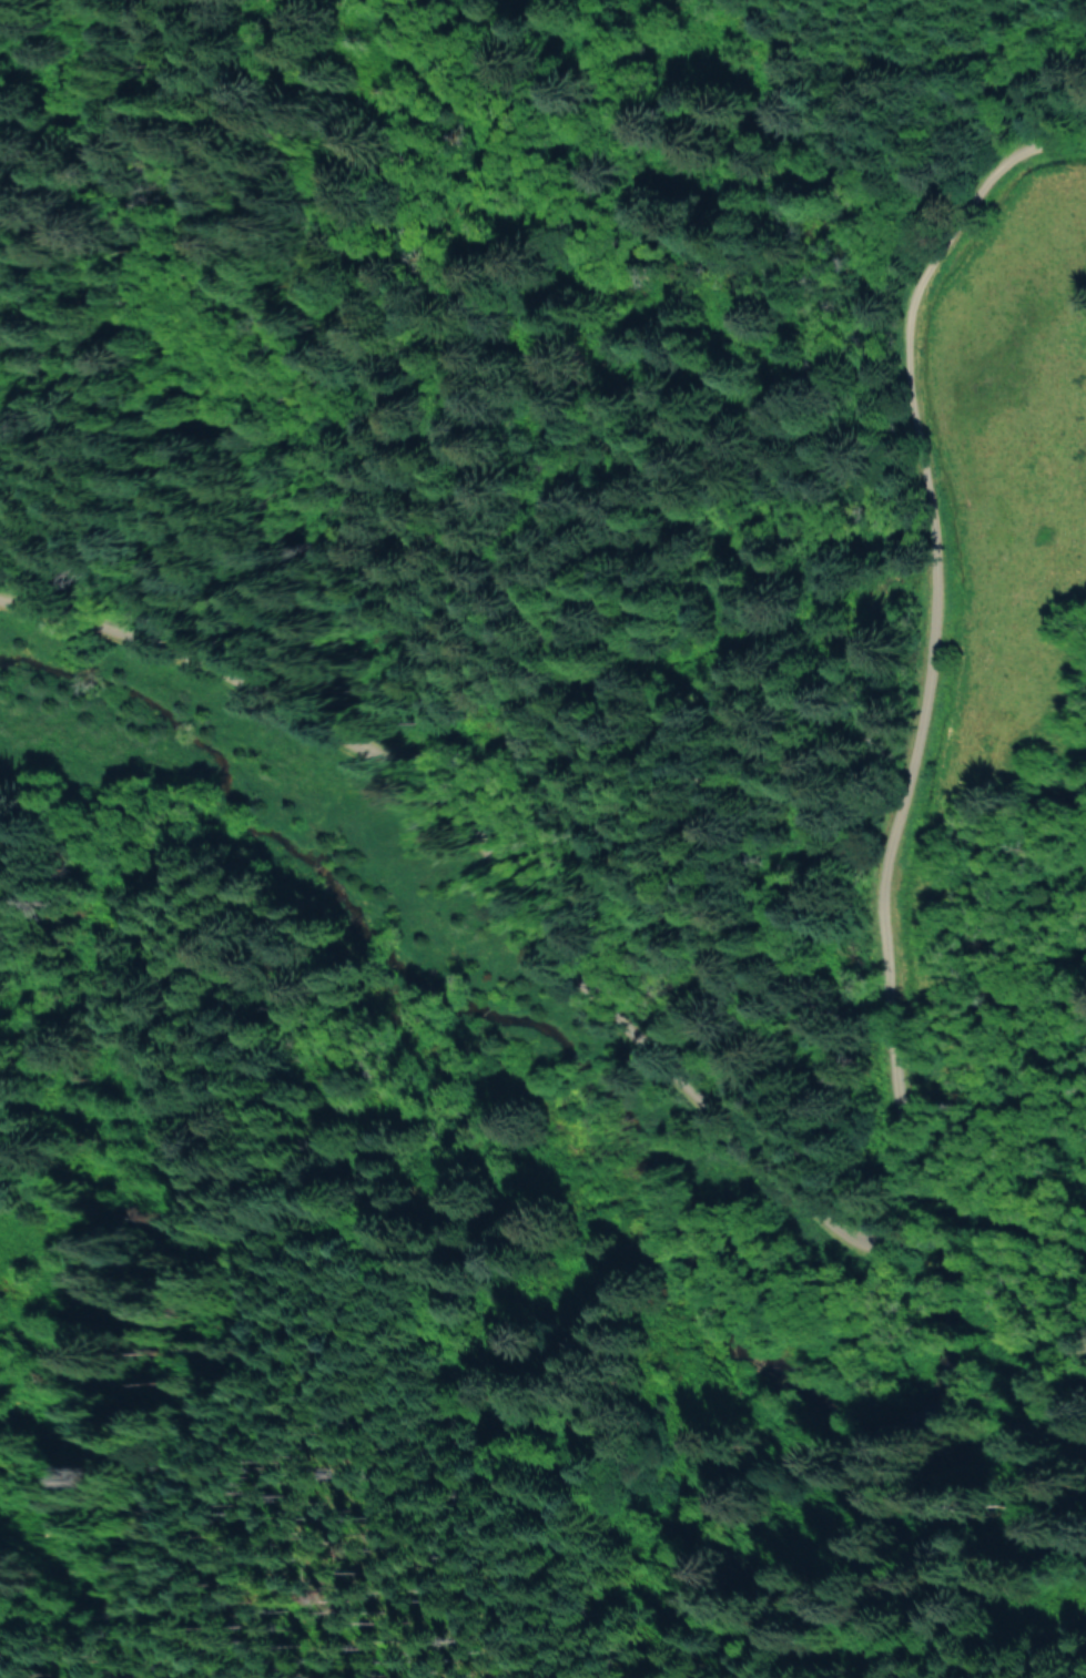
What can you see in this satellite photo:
road: (876, 1182)

